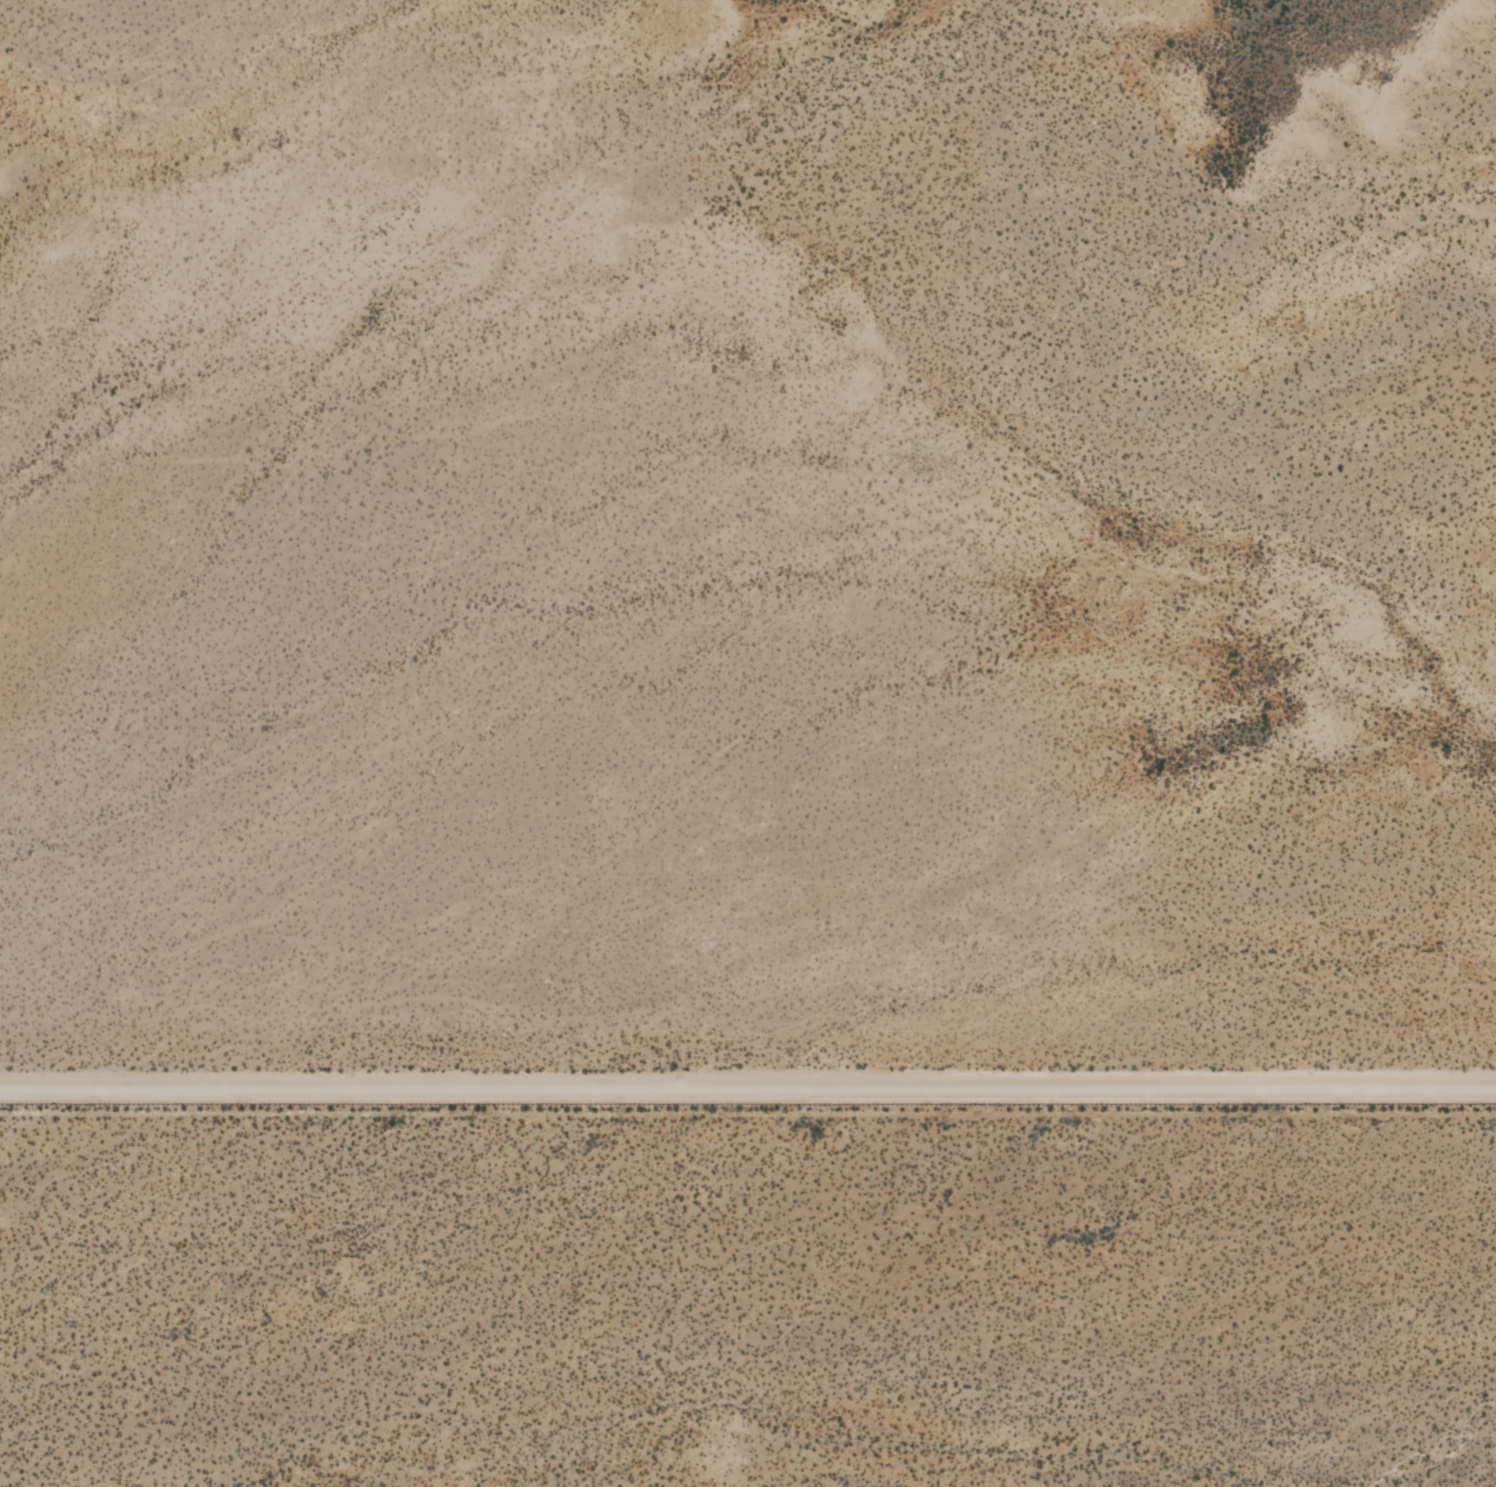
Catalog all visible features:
road: (748, 1087)

